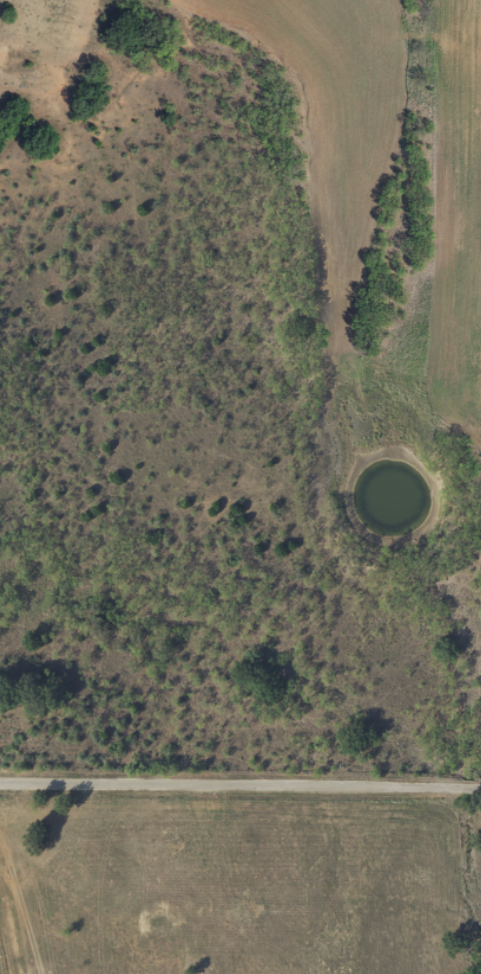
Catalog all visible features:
road: (240, 800)

